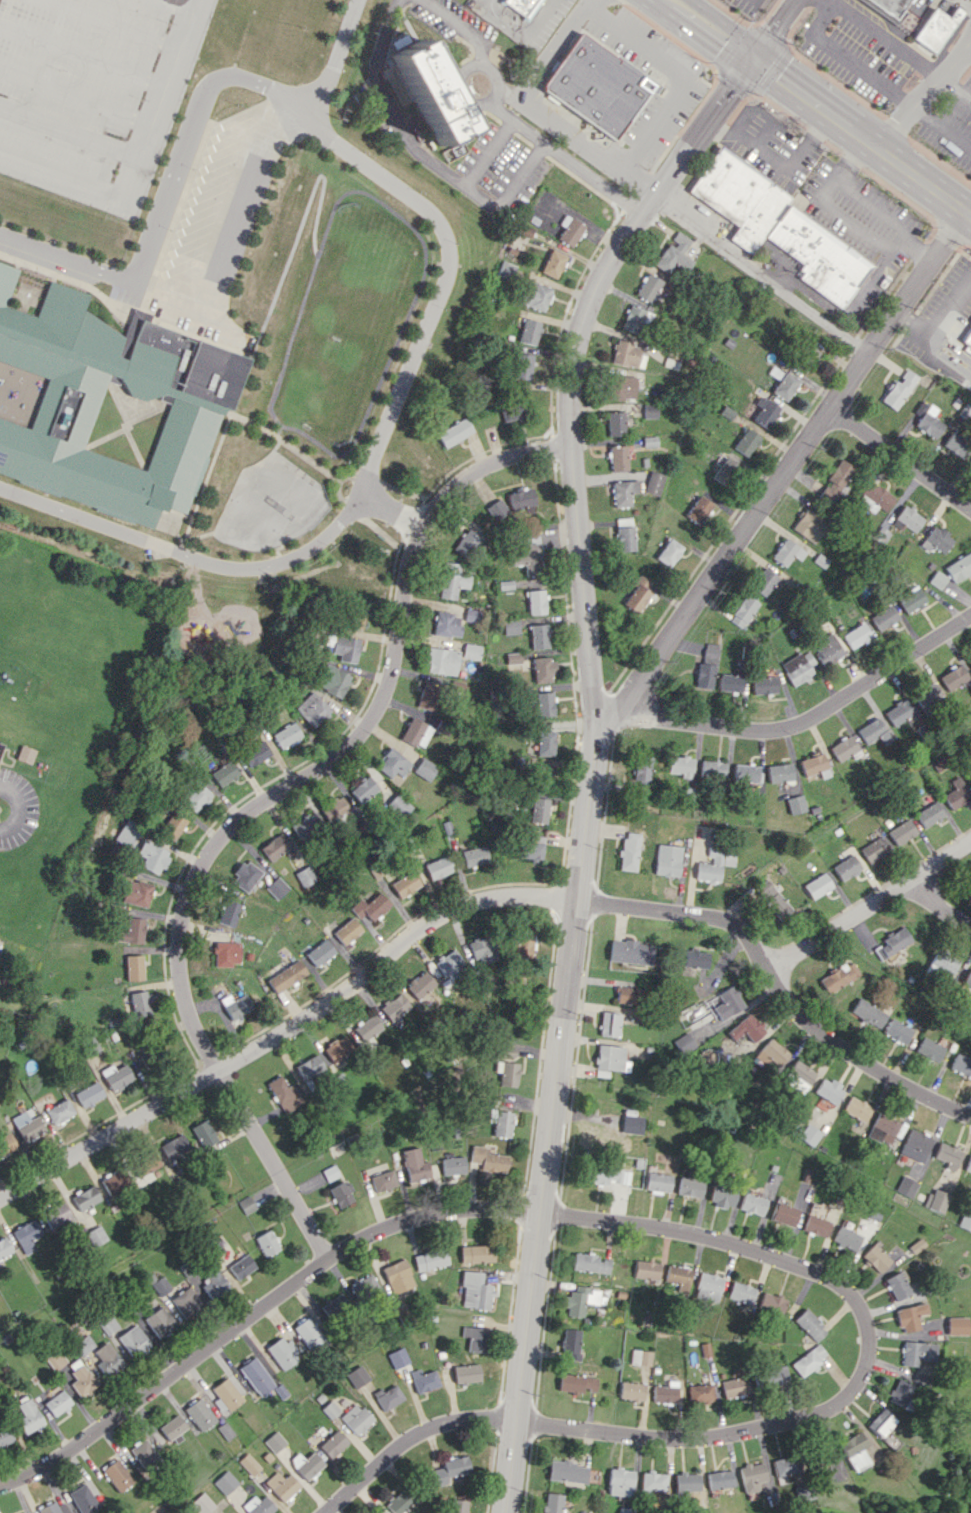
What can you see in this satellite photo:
road: (967, 2)
building: (521, 6)
building: (889, 6)
road: (517, 28)
building: (934, 28)
road: (773, 30)
road: (884, 38)
road: (967, 47)
traffic signals: (753, 60)
road: (847, 60)
road: (686, 74)
building: (597, 85)
road: (956, 89)
building: (428, 92)
road: (924, 94)
road: (523, 96)
road: (817, 109)
road: (514, 120)
road: (942, 126)
road: (183, 139)
road: (141, 147)
road: (420, 154)
road: (773, 160)
road: (637, 185)
road: (869, 204)
road: (843, 218)
building: (777, 226)
building: (570, 230)
building: (680, 240)
building: (672, 259)
building: (553, 263)
building: (506, 270)
road: (762, 274)
road: (439, 281)
building: (648, 287)
building: (535, 295)
road: (848, 308)
road: (938, 318)
building: (635, 319)
building: (529, 331)
building: (967, 338)
building: (627, 354)
building: (807, 354)
road: (942, 355)
building: (522, 366)
building: (784, 386)
building: (621, 387)
building: (898, 390)
building: (106, 405)
building: (512, 407)
building: (650, 411)
building: (764, 412)
building: (926, 421)
building: (615, 423)
building: (454, 432)
building: (746, 442)
building: (956, 444)
building: (618, 457)
road: (900, 459)
building: (725, 471)
road: (784, 473)
building: (835, 481)
building: (654, 483)
building: (624, 492)
building: (876, 495)
building: (522, 498)
building: (497, 509)
building: (698, 509)
road: (392, 513)
building: (906, 519)
building: (808, 525)
building: (624, 534)
building: (937, 539)
building: (466, 543)
building: (668, 552)
building: (786, 552)
road: (185, 553)
building: (529, 558)
building: (959, 567)
building: (937, 579)
building: (452, 580)
building: (763, 581)
building: (637, 594)
building: (910, 599)
building: (536, 602)
building: (743, 611)
building: (472, 615)
building: (355, 616)
building: (883, 618)
building: (446, 624)
building: (511, 626)
building: (856, 635)
building: (539, 636)
building: (346, 648)
building: (826, 649)
building: (471, 651)
building: (513, 658)
building: (969, 659)
building: (442, 660)
building: (797, 667)
building: (543, 669)
building: (704, 675)
building: (953, 677)
building: (333, 680)
building: (728, 682)
building: (764, 684)
building: (926, 695)
building: (428, 696)
building: (544, 704)
building: (312, 708)
building: (898, 712)
road: (797, 725)
building: (873, 731)
building: (416, 732)
building: (287, 735)
building: (0, 743)
building: (545, 743)
building: (255, 753)
building: (25, 754)
road: (589, 761)
building: (392, 763)
building: (680, 765)
building: (814, 765)
building: (425, 769)
building: (712, 769)
building: (643, 771)
building: (779, 772)
building: (225, 773)
building: (745, 773)
building: (544, 774)
building: (970, 778)
building: (364, 789)
building: (957, 793)
building: (197, 797)
road: (258, 804)
building: (796, 804)
building: (398, 805)
road: (21, 810)
building: (336, 810)
building: (538, 810)
building: (929, 814)
building: (173, 824)
building: (306, 826)
building: (129, 832)
building: (902, 832)
building: (275, 847)
building: (531, 848)
building: (874, 849)
building: (629, 851)
building: (154, 856)
building: (474, 856)
building: (668, 859)
building: (715, 864)
building: (438, 867)
building: (846, 867)
building: (306, 875)
building: (245, 876)
building: (405, 884)
building: (818, 885)
building: (277, 887)
building: (138, 892)
road: (482, 900)
building: (774, 900)
road: (940, 905)
road: (870, 906)
building: (371, 907)
building: (229, 912)
building: (347, 930)
building: (132, 931)
building: (893, 942)
building: (522, 944)
building: (482, 950)
building: (630, 952)
building: (227, 953)
building: (320, 953)
building: (696, 958)
building: (449, 963)
building: (943, 964)
building: (134, 967)
building: (287, 976)
building: (840, 976)
building: (968, 978)
building: (420, 984)
building: (628, 995)
building: (728, 1002)
building: (141, 1003)
building: (236, 1006)
building: (394, 1006)
building: (869, 1013)
building: (609, 1024)
building: (368, 1027)
building: (750, 1027)
building: (898, 1031)
building: (737, 1034)
building: (685, 1043)
building: (338, 1048)
building: (930, 1049)
building: (770, 1053)
building: (611, 1058)
building: (962, 1064)
building: (309, 1067)
building: (506, 1072)
building: (801, 1074)
building: (117, 1076)
building: (828, 1090)
building: (284, 1093)
building: (89, 1094)
building: (857, 1109)
building: (59, 1111)
building: (500, 1122)
building: (27, 1124)
building: (632, 1124)
building: (883, 1127)
building: (203, 1134)
building: (809, 1134)
building: (6, 1144)
building: (916, 1145)
building: (173, 1146)
building: (948, 1155)
building: (487, 1159)
building: (144, 1163)
building: (968, 1164)
building: (415, 1165)
building: (452, 1165)
building: (606, 1175)
building: (382, 1180)
building: (112, 1182)
building: (657, 1182)
building: (906, 1186)
building: (689, 1187)
building: (341, 1193)
building: (722, 1196)
building: (85, 1197)
building: (936, 1200)
building: (752, 1203)
building: (246, 1204)
building: (783, 1214)
building: (56, 1215)
building: (965, 1220)
building: (815, 1225)
building: (27, 1235)
building: (96, 1235)
building: (846, 1238)
building: (266, 1243)
building: (4, 1247)
building: (476, 1253)
building: (874, 1258)
building: (430, 1259)
building: (589, 1263)
building: (241, 1266)
building: (646, 1269)
building: (398, 1276)
building: (679, 1277)
building: (213, 1283)
building: (160, 1285)
building: (364, 1286)
building: (896, 1286)
building: (708, 1287)
building: (475, 1291)
building: (741, 1292)
building: (581, 1299)
building: (185, 1301)
building: (771, 1303)
building: (336, 1306)
road: (257, 1311)
building: (910, 1316)
building: (159, 1321)
building: (810, 1324)
building: (109, 1325)
building: (957, 1325)
building: (309, 1332)
building: (474, 1338)
building: (133, 1340)
building: (571, 1343)
building: (85, 1344)
road: (863, 1348)
building: (282, 1352)
building: (918, 1352)
building: (642, 1357)
building: (56, 1359)
building: (107, 1359)
building: (809, 1359)
building: (466, 1373)
building: (256, 1376)
building: (358, 1376)
building: (776, 1376)
building: (423, 1380)
building: (577, 1383)
building: (735, 1387)
building: (632, 1390)
building: (666, 1392)
building: (899, 1392)
building: (702, 1393)
building: (226, 1394)
building: (388, 1397)
building: (57, 1402)
building: (331, 1409)
building: (199, 1414)
building: (28, 1416)
building: (355, 1418)
building: (880, 1421)
building: (172, 1427)
building: (5, 1435)
building: (892, 1441)
building: (274, 1442)
road: (414, 1442)
building: (333, 1443)
building: (855, 1450)
building: (145, 1454)
building: (248, 1463)
building: (306, 1464)
building: (786, 1465)
building: (449, 1469)
building: (567, 1471)
building: (117, 1475)
building: (753, 1475)
building: (720, 1479)
building: (620, 1481)
building: (224, 1482)
building: (653, 1482)
building: (687, 1482)
building: (281, 1485)
building: (82, 1499)
building: (398, 1502)
building: (201, 1503)
building: (552, 1503)
building: (258, 1505)
building: (455, 1506)
building: (53, 1508)
building: (626, 1510)
building: (377, 1512)

